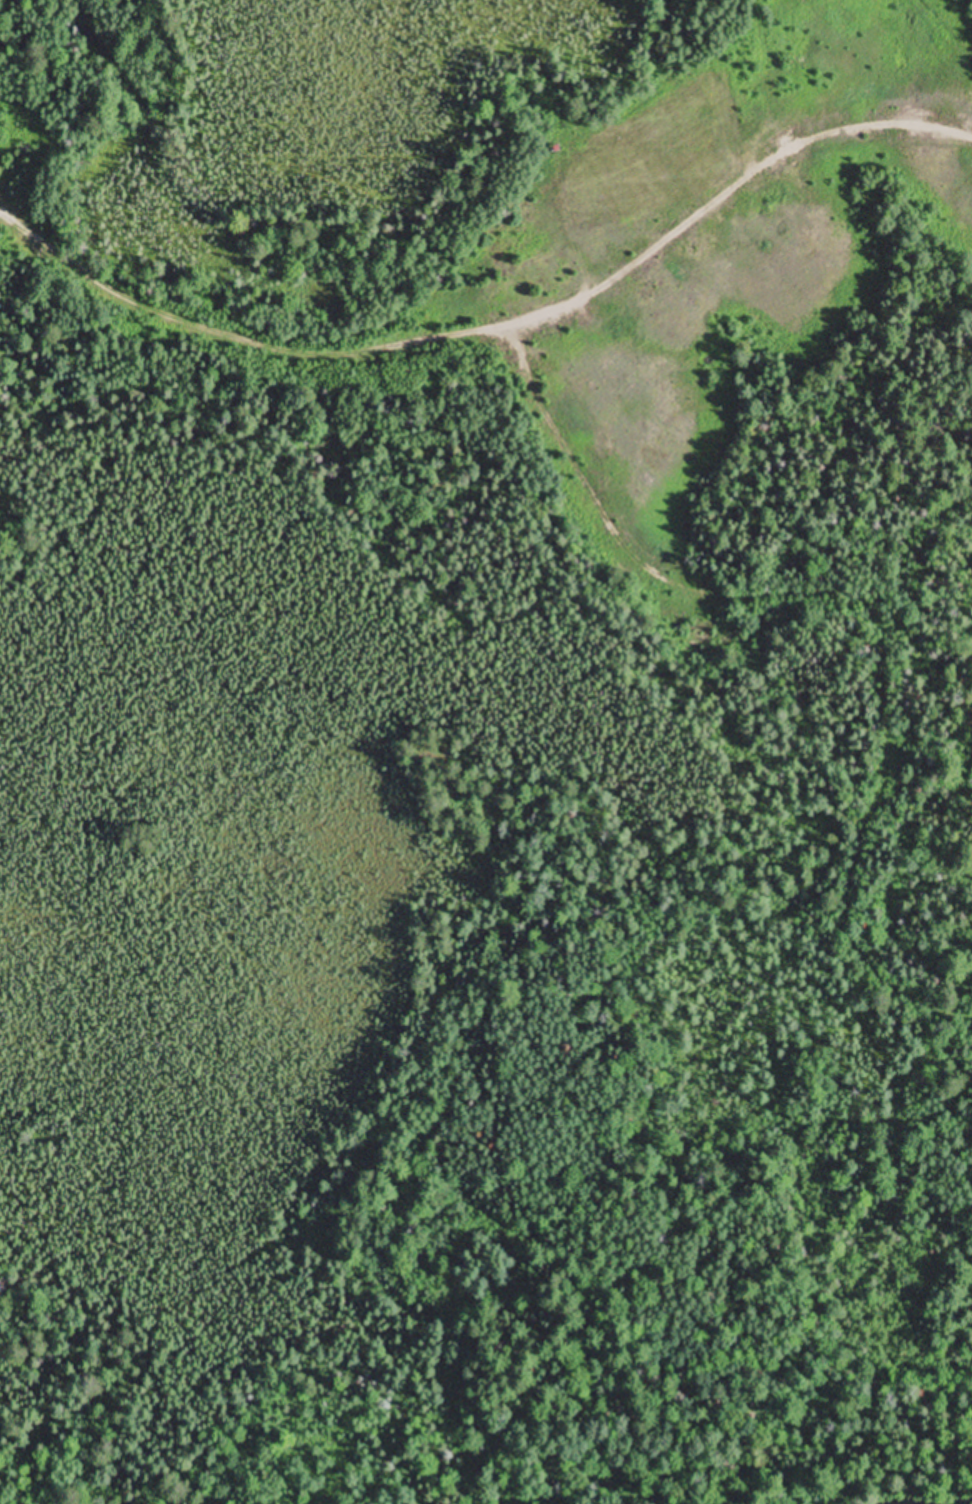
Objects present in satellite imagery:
road: (497, 328)

